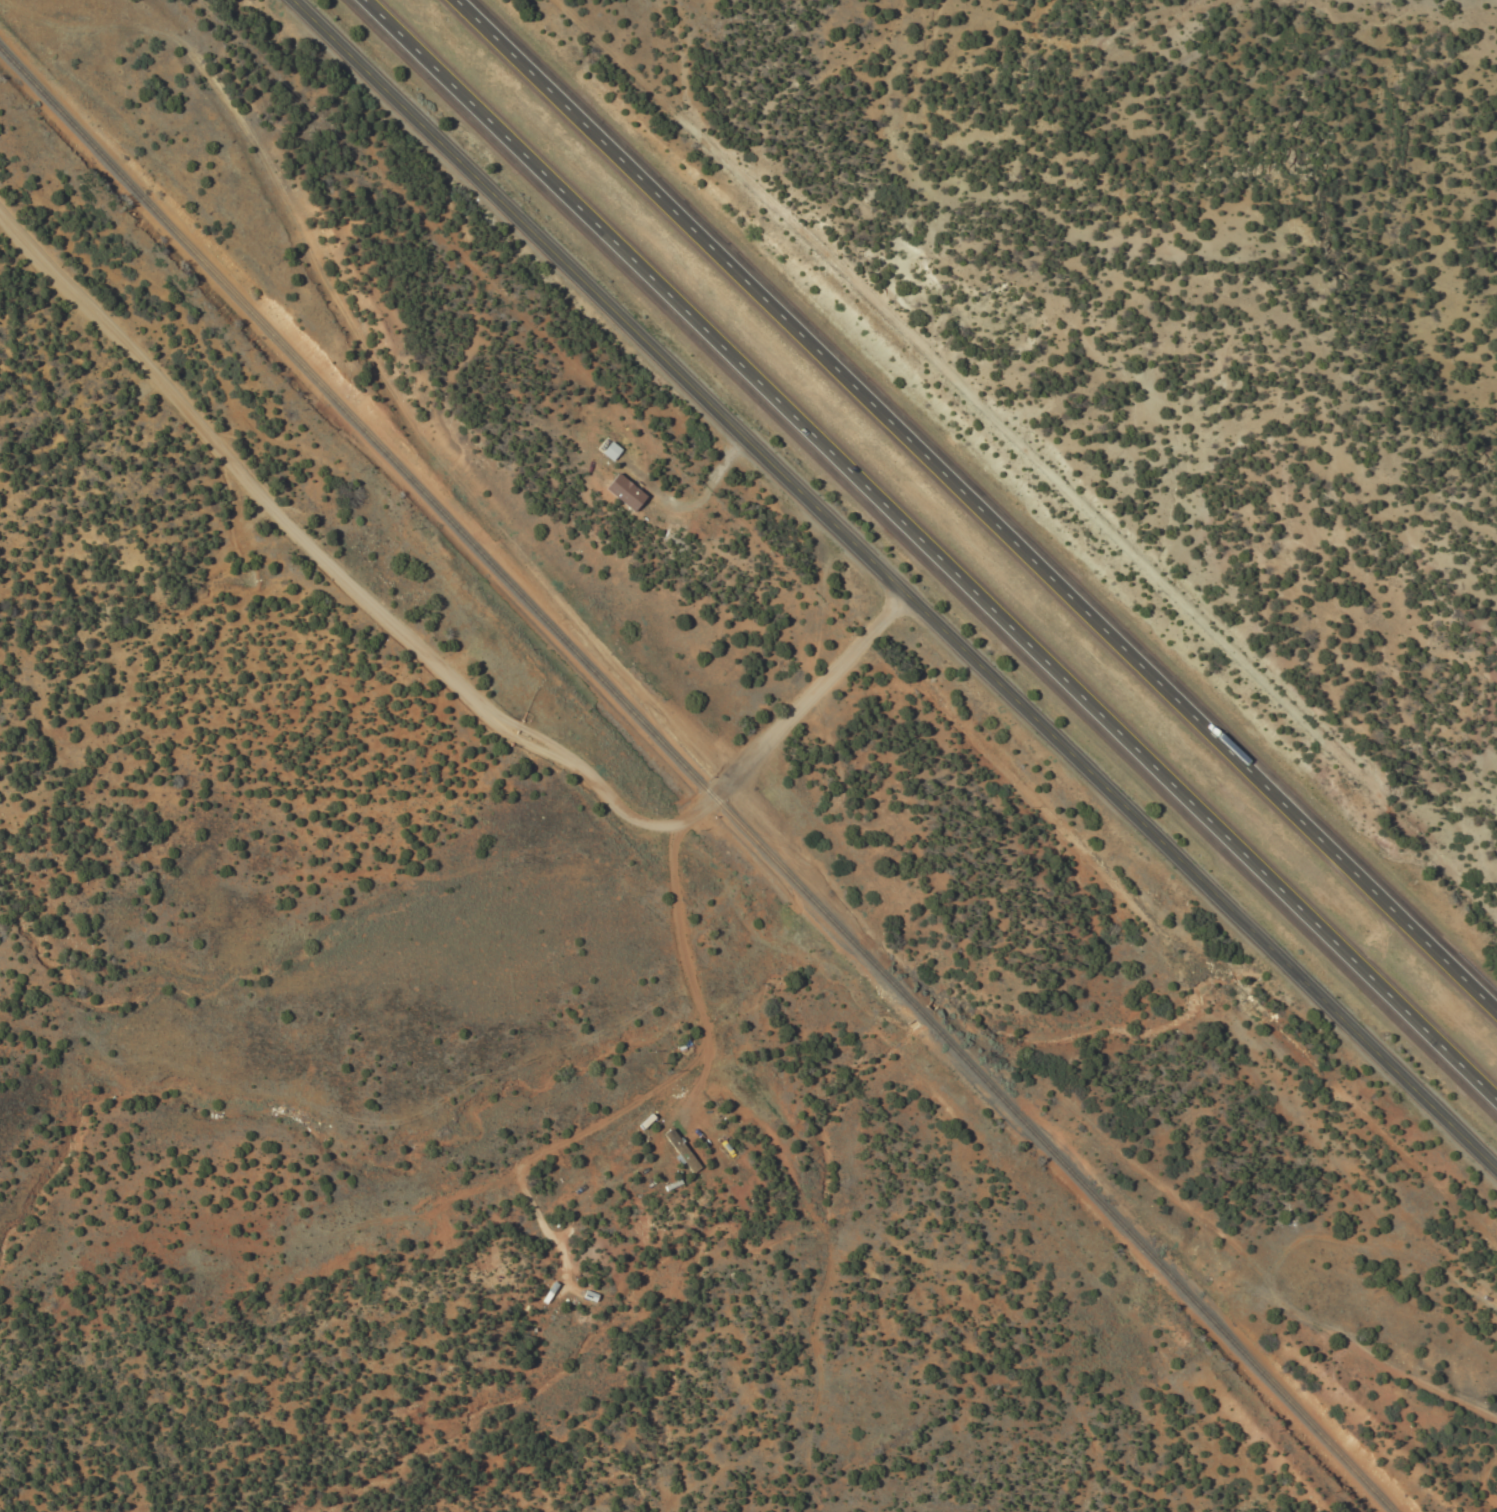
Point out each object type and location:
building: (619, 492)
road: (974, 507)
road: (929, 550)
road: (897, 583)
road: (437, 650)
railway: (696, 781)
building: (678, 1151)

